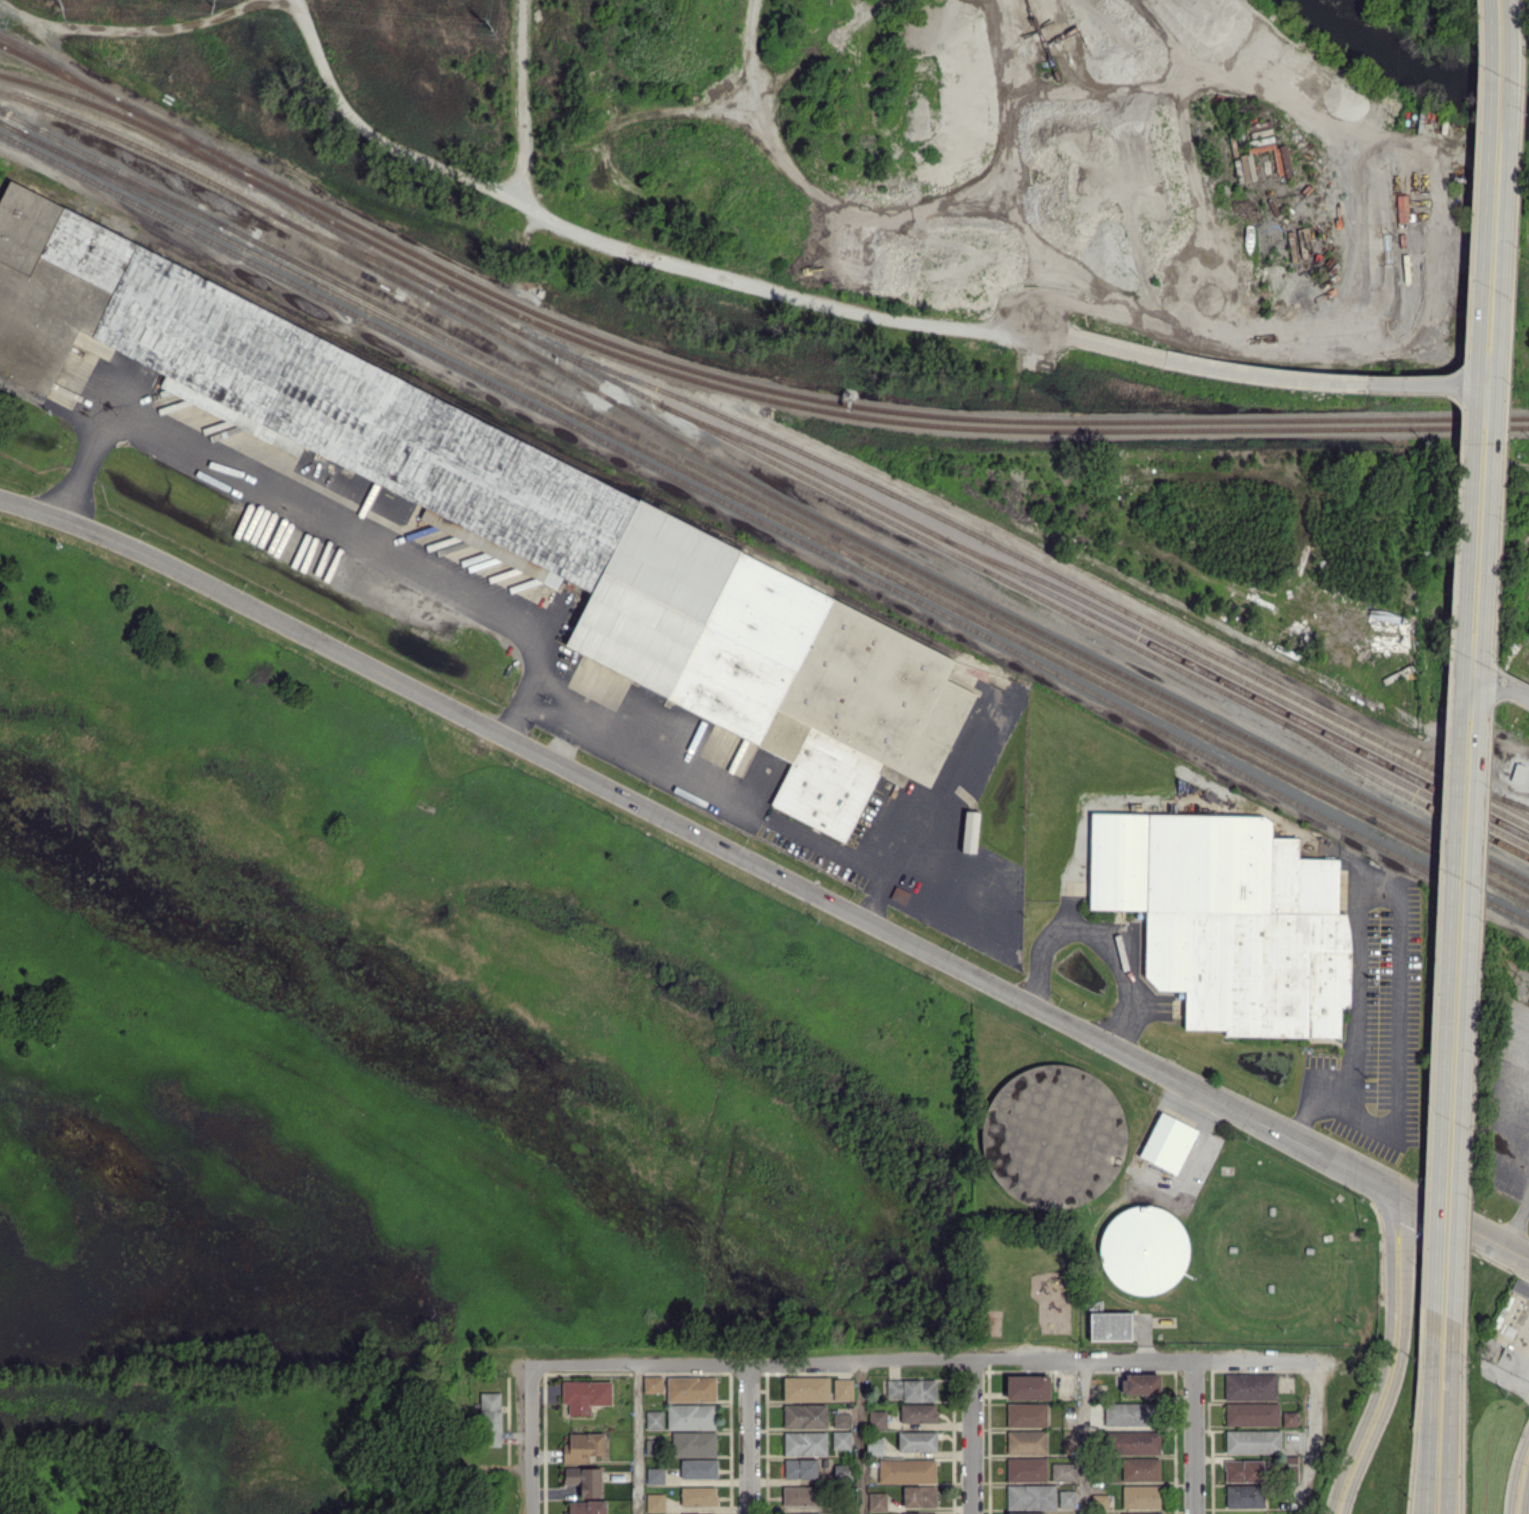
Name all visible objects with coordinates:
power tower: (214, 7)
power tower: (60, 8)
power tower: (490, 29)
river: (1409, 66)
railway: (57, 67)
railway: (187, 142)
building: (1283, 167)
railway: (122, 179)
railway: (341, 235)
railway: (404, 285)
railway: (328, 301)
railway: (728, 380)
railway: (732, 390)
railway: (764, 501)
road: (303, 510)
railway: (764, 511)
railway: (905, 530)
building: (588, 549)
railway: (1029, 561)
railway: (1096, 616)
road: (1461, 655)
road: (1479, 659)
railway: (1238, 679)
road: (1495, 681)
railway: (1093, 694)
railway: (1161, 694)
road: (682, 776)
railway: (1404, 793)
railway: (1489, 793)
railway: (1515, 803)
road: (932, 811)
building: (969, 831)
road: (708, 841)
building: (1229, 919)
road: (1098, 938)
road: (1353, 993)
road: (1395, 1058)
building: (1064, 1106)
road: (1513, 1131)
building: (1167, 1143)
road: (1190, 1161)
road: (1510, 1174)
road: (1515, 1221)
road: (1469, 1230)
building: (1143, 1250)
building: (1520, 1288)
building: (1109, 1326)
road: (1387, 1355)
road: (1398, 1361)
road: (930, 1362)
road: (1507, 1378)
building: (652, 1383)
building: (1141, 1383)
building: (1250, 1386)
building: (1027, 1387)
building: (691, 1388)
building: (806, 1388)
building: (843, 1389)
building: (910, 1389)
building: (585, 1395)
road: (1428, 1412)
building: (918, 1413)
building: (1026, 1414)
building: (1129, 1414)
building: (1251, 1414)
building: (691, 1416)
building: (804, 1416)
road: (1448, 1417)
building: (1289, 1418)
building: (490, 1419)
building: (654, 1419)
building: (877, 1419)
building: (841, 1420)
road: (1194, 1437)
road: (1310, 1437)
road: (860, 1438)
road: (971, 1438)
road: (1087, 1438)
road: (530, 1439)
road: (638, 1439)
road: (749, 1439)
building: (841, 1439)
building: (917, 1441)
building: (1252, 1441)
building: (1026, 1442)
building: (1135, 1442)
building: (805, 1443)
building: (693, 1444)
building: (874, 1446)
building: (583, 1447)
building: (651, 1447)
building: (698, 1468)
building: (800, 1468)
building: (1026, 1469)
building: (1140, 1469)
building: (1289, 1469)
building: (1243, 1470)
road: (1514, 1470)
building: (842, 1471)
building: (906, 1471)
building: (1063, 1471)
building: (655, 1475)
building: (584, 1480)
road: (1525, 1492)
building: (800, 1495)
building: (1030, 1495)
building: (698, 1496)
building: (919, 1496)
building: (1140, 1496)
building: (1244, 1496)
building: (1066, 1499)
building: (877, 1501)
building: (1099, 1501)
building: (655, 1502)
building: (586, 1507)
building: (710, 1513)
building: (806, 1513)
building: (918, 1513)
building: (1026, 1513)
building: (1139, 1513)

